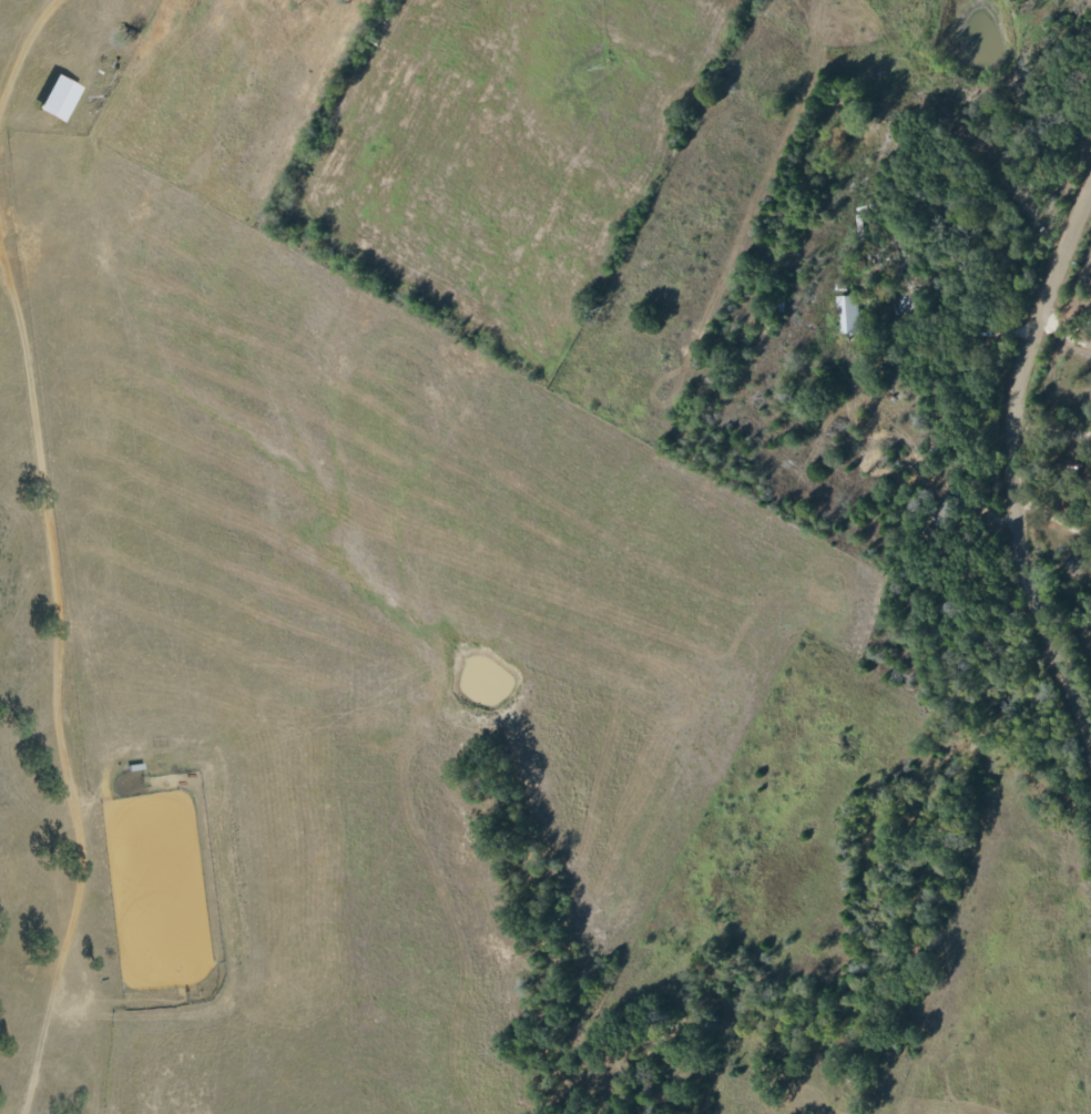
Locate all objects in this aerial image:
building: (52, 99)
building: (846, 314)
road: (1051, 442)
road: (1011, 476)
road: (1051, 531)
road: (59, 554)

